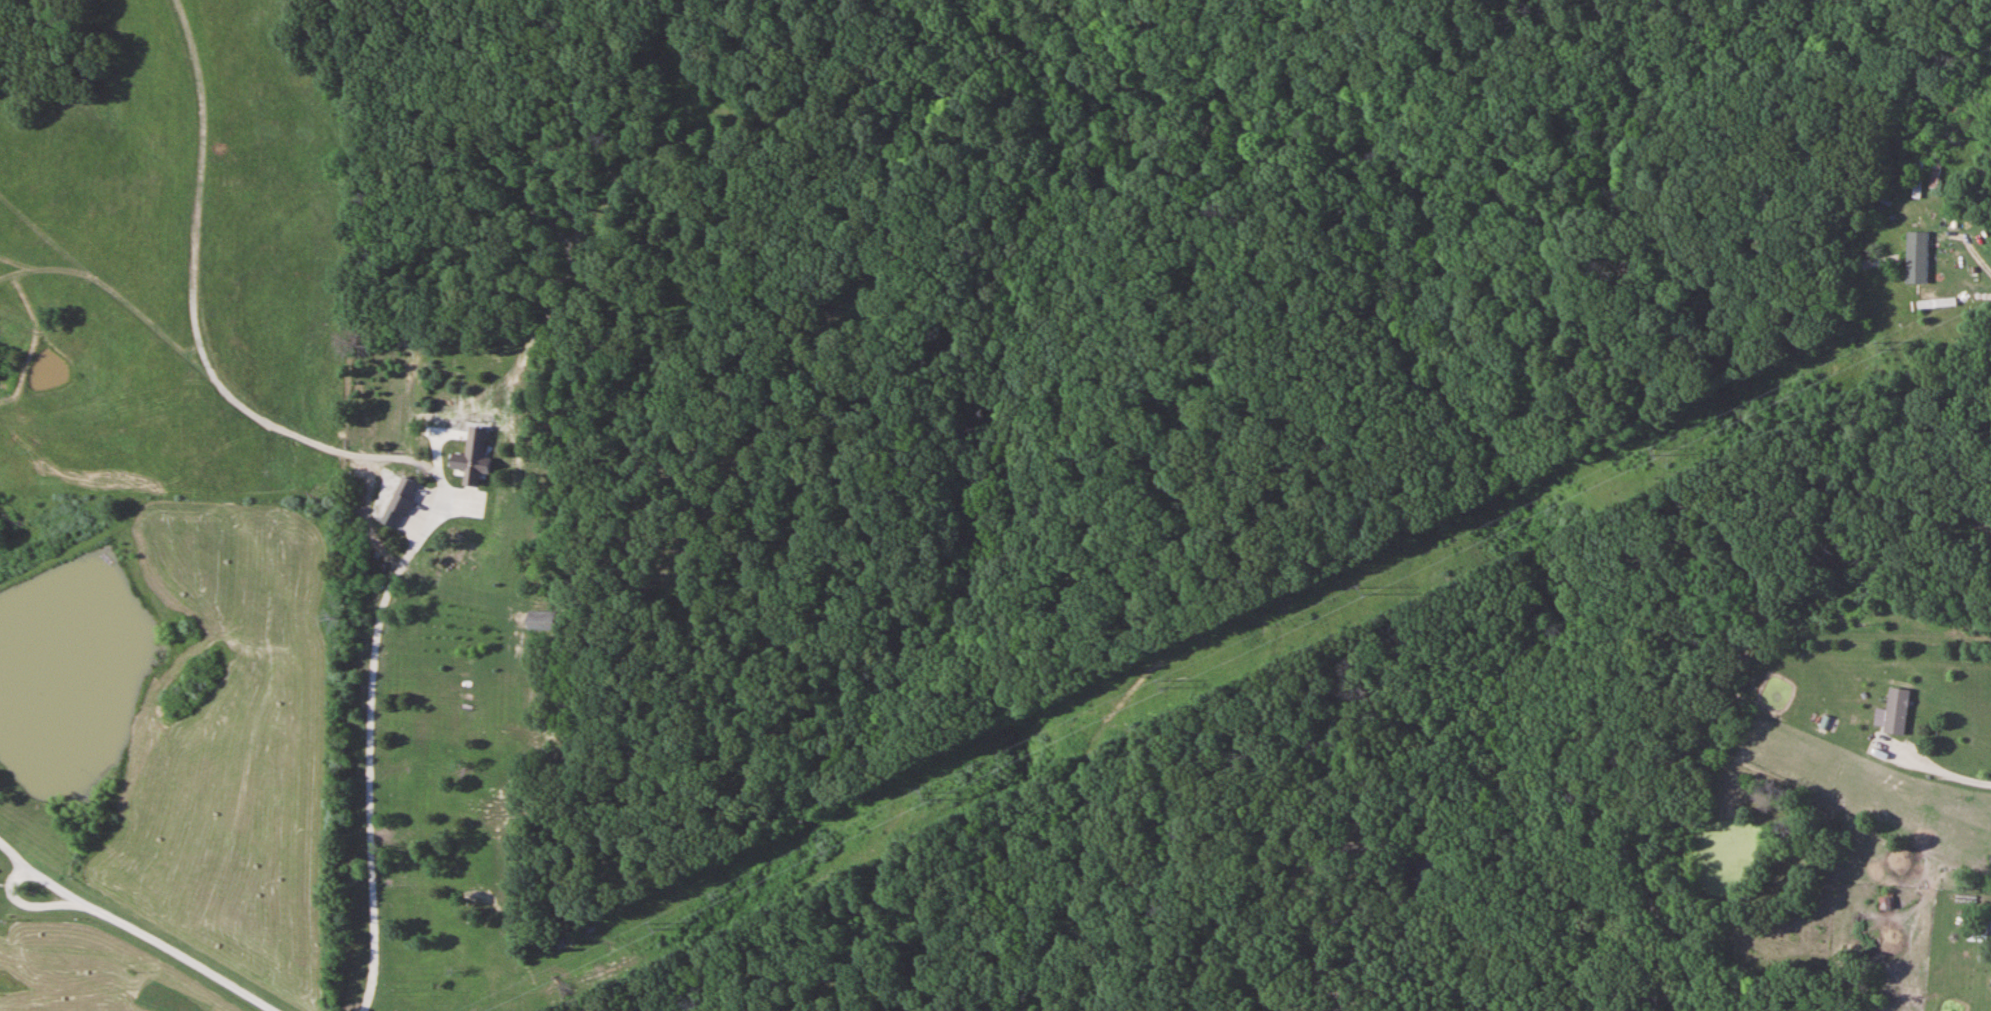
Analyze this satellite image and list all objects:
building: (1983, 173)
building: (1886, 260)
building: (542, 620)
building: (1897, 711)
road: (367, 746)
road: (1946, 765)
road: (12, 855)
road: (150, 939)

